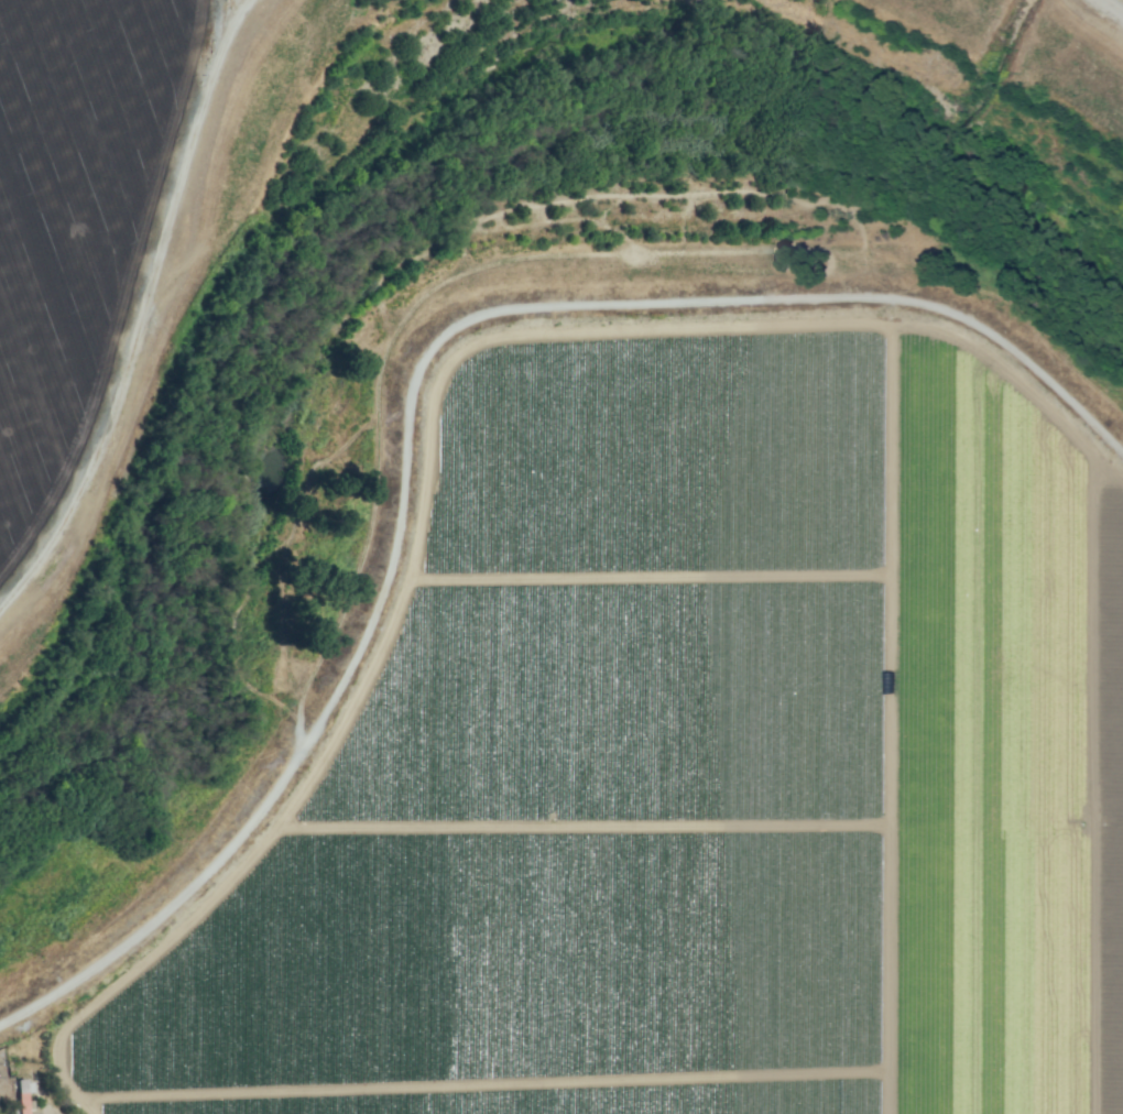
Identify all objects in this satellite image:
crop: (113, 259)
river: (269, 265)
river: (994, 277)
crop: (685, 764)
building: (23, 1097)

